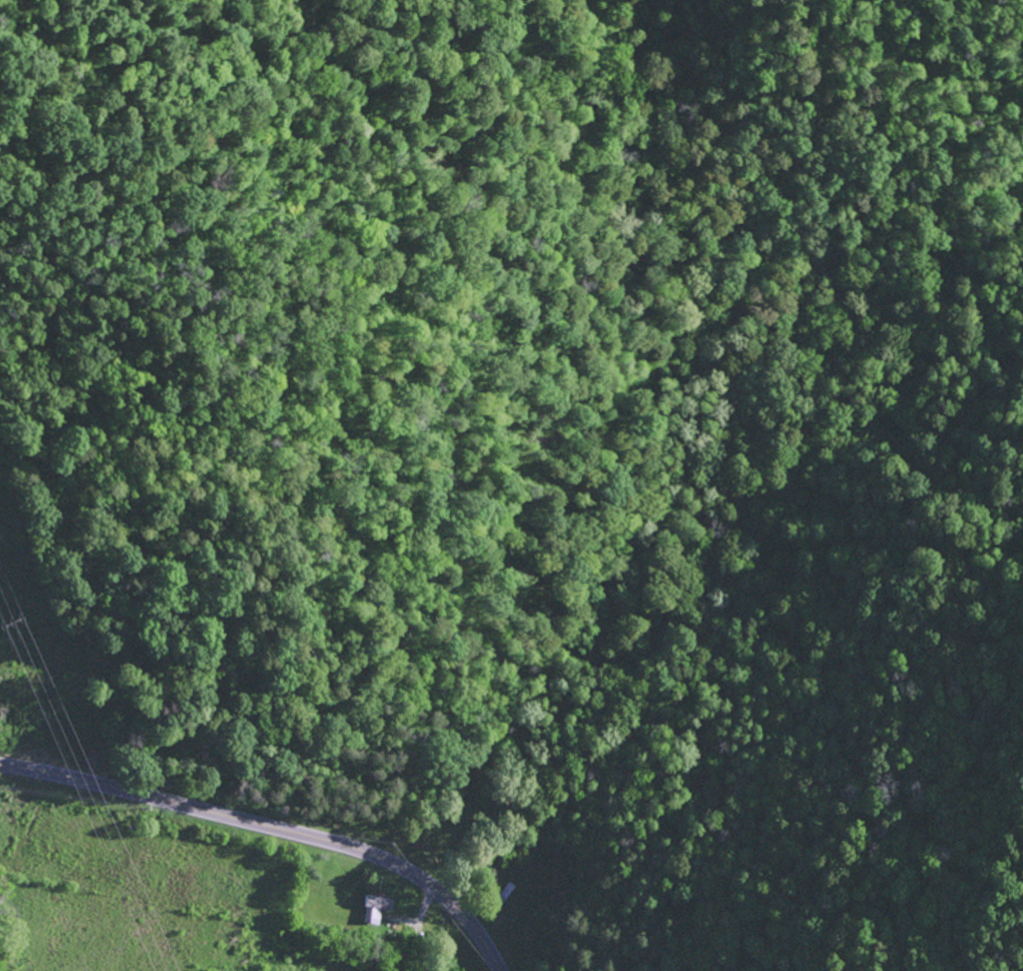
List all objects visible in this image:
road: (719, 479)
road: (273, 827)
building: (374, 908)

